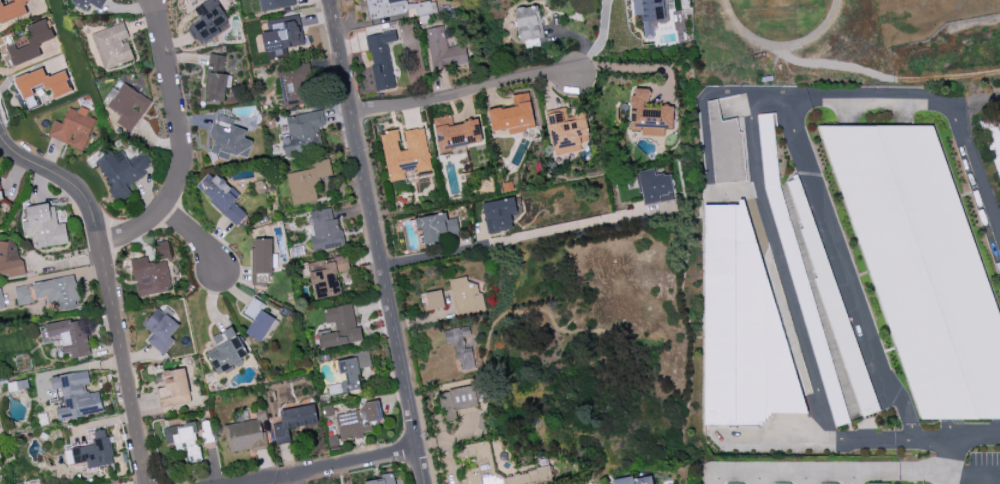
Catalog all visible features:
building: (88, 3)
building: (275, 4)
park: (909, 5)
building: (385, 8)
building: (12, 10)
building: (651, 12)
track: (780, 18)
building: (207, 21)
building: (528, 22)
building: (284, 34)
road: (599, 41)
building: (29, 42)
building: (113, 45)
building: (443, 49)
building: (276, 54)
building: (381, 59)
road: (632, 67)
building: (217, 78)
building: (43, 82)
building: (295, 84)
road: (462, 90)
road: (973, 100)
building: (128, 106)
road: (3, 109)
building: (514, 114)
building: (649, 114)
building: (73, 127)
building: (567, 130)
building: (456, 132)
building: (303, 133)
building: (993, 138)
building: (229, 139)
road: (180, 140)
building: (725, 146)
building: (406, 153)
building: (123, 171)
building: (307, 181)
road: (756, 183)
building: (656, 184)
building: (0, 194)
building: (221, 197)
building: (498, 214)
building: (436, 225)
building: (45, 226)
building: (325, 229)
road: (197, 232)
road: (517, 236)
road: (375, 242)
building: (162, 249)
building: (11, 259)
building: (261, 260)
building: (922, 264)
building: (798, 270)
road: (844, 270)
building: (327, 275)
building: (151, 276)
road: (109, 286)
building: (58, 292)
building: (465, 295)
building: (434, 299)
building: (2, 300)
building: (836, 310)
building: (739, 312)
building: (258, 319)
building: (341, 326)
building: (161, 329)
building: (71, 336)
building: (460, 344)
building: (226, 350)
building: (354, 370)
building: (174, 388)
building: (77, 395)
building: (457, 400)
building: (294, 421)
building: (358, 421)
building: (245, 435)
building: (185, 439)
building: (333, 441)
building: (94, 450)
road: (947, 456)
road: (323, 465)
building: (493, 470)
road: (901, 471)
road: (780, 472)
road: (968, 474)
road: (285, 478)
road: (854, 478)
building: (383, 479)
building: (634, 480)
building: (734, 483)
building: (780, 483)
building: (828, 483)

